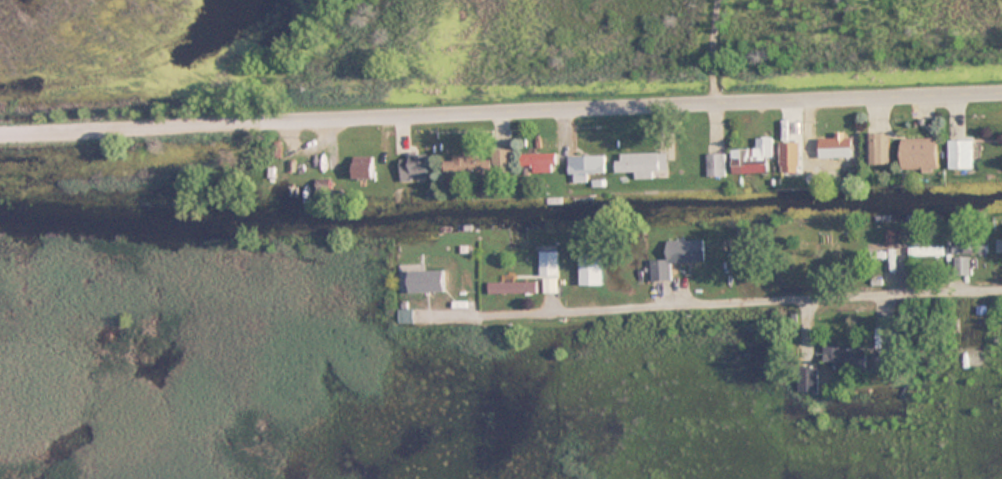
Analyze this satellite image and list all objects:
road: (713, 50)
road: (500, 110)
building: (837, 146)
building: (878, 147)
building: (791, 153)
building: (961, 153)
building: (920, 155)
building: (754, 157)
building: (539, 161)
building: (481, 162)
building: (642, 162)
building: (717, 164)
building: (587, 165)
building: (360, 166)
building: (415, 166)
building: (971, 244)
building: (999, 245)
building: (925, 248)
building: (678, 256)
building: (551, 263)
building: (963, 265)
building: (593, 269)
building: (552, 286)
building: (515, 287)
building: (446, 288)
road: (752, 301)
building: (407, 315)
building: (847, 357)
building: (886, 361)
building: (809, 378)

